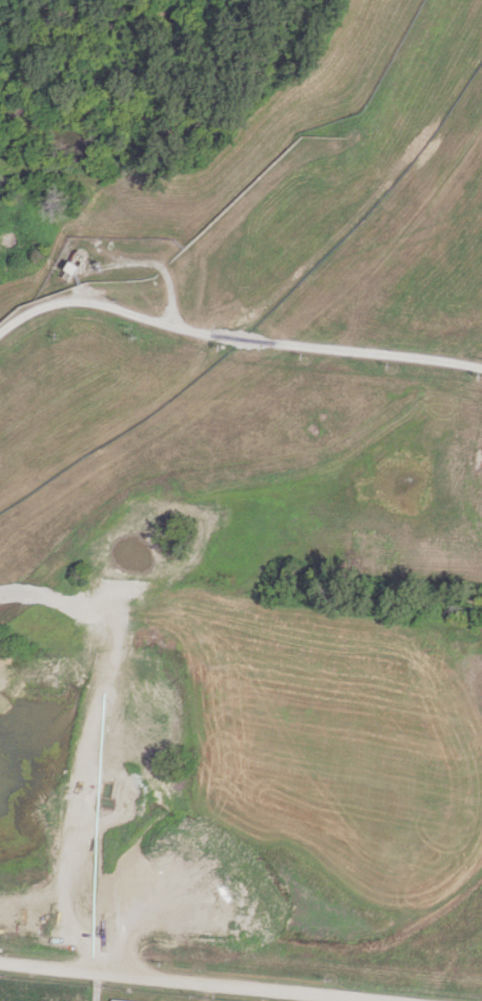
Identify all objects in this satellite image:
road: (195, 981)
road: (96, 986)
crop: (30, 990)
building: (124, 1000)

